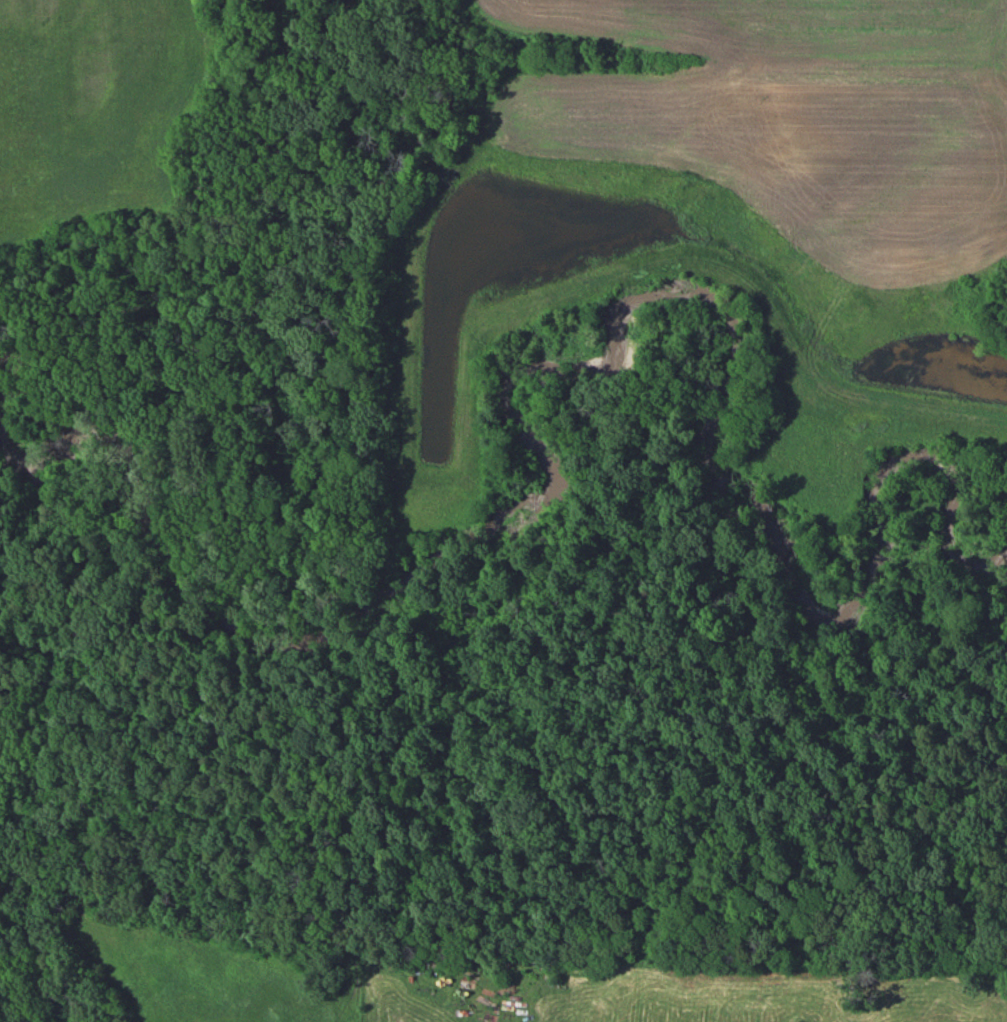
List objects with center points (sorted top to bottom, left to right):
river: (585, 368)

